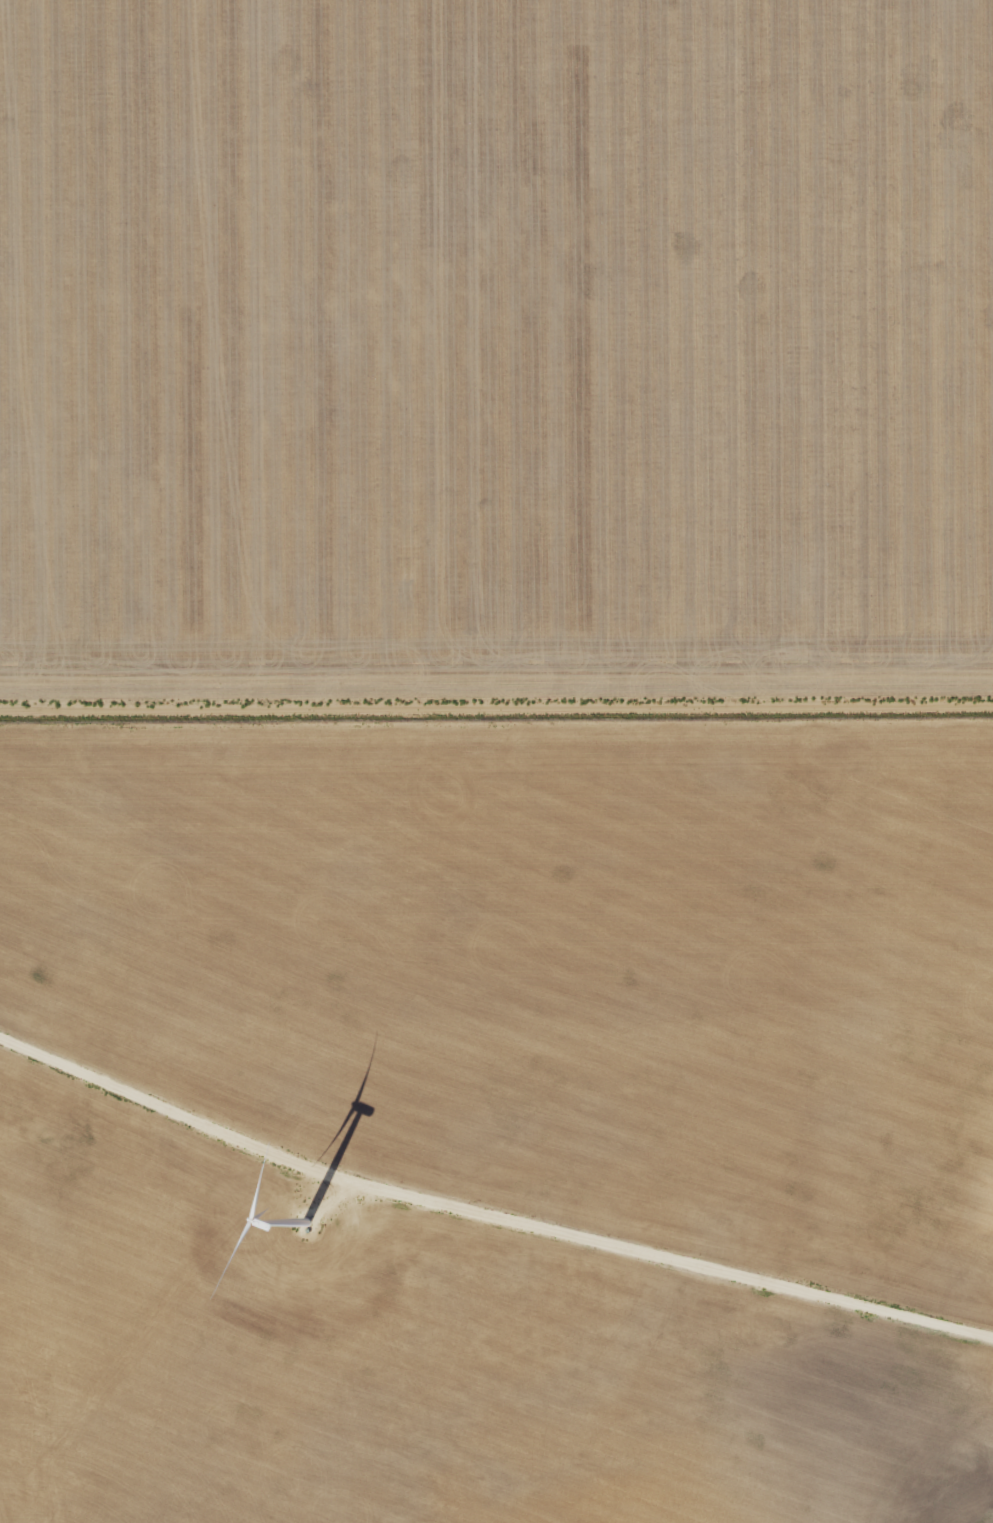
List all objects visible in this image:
road: (496, 711)
road: (334, 1198)
road: (487, 1215)
wind turbine: (304, 1228)

